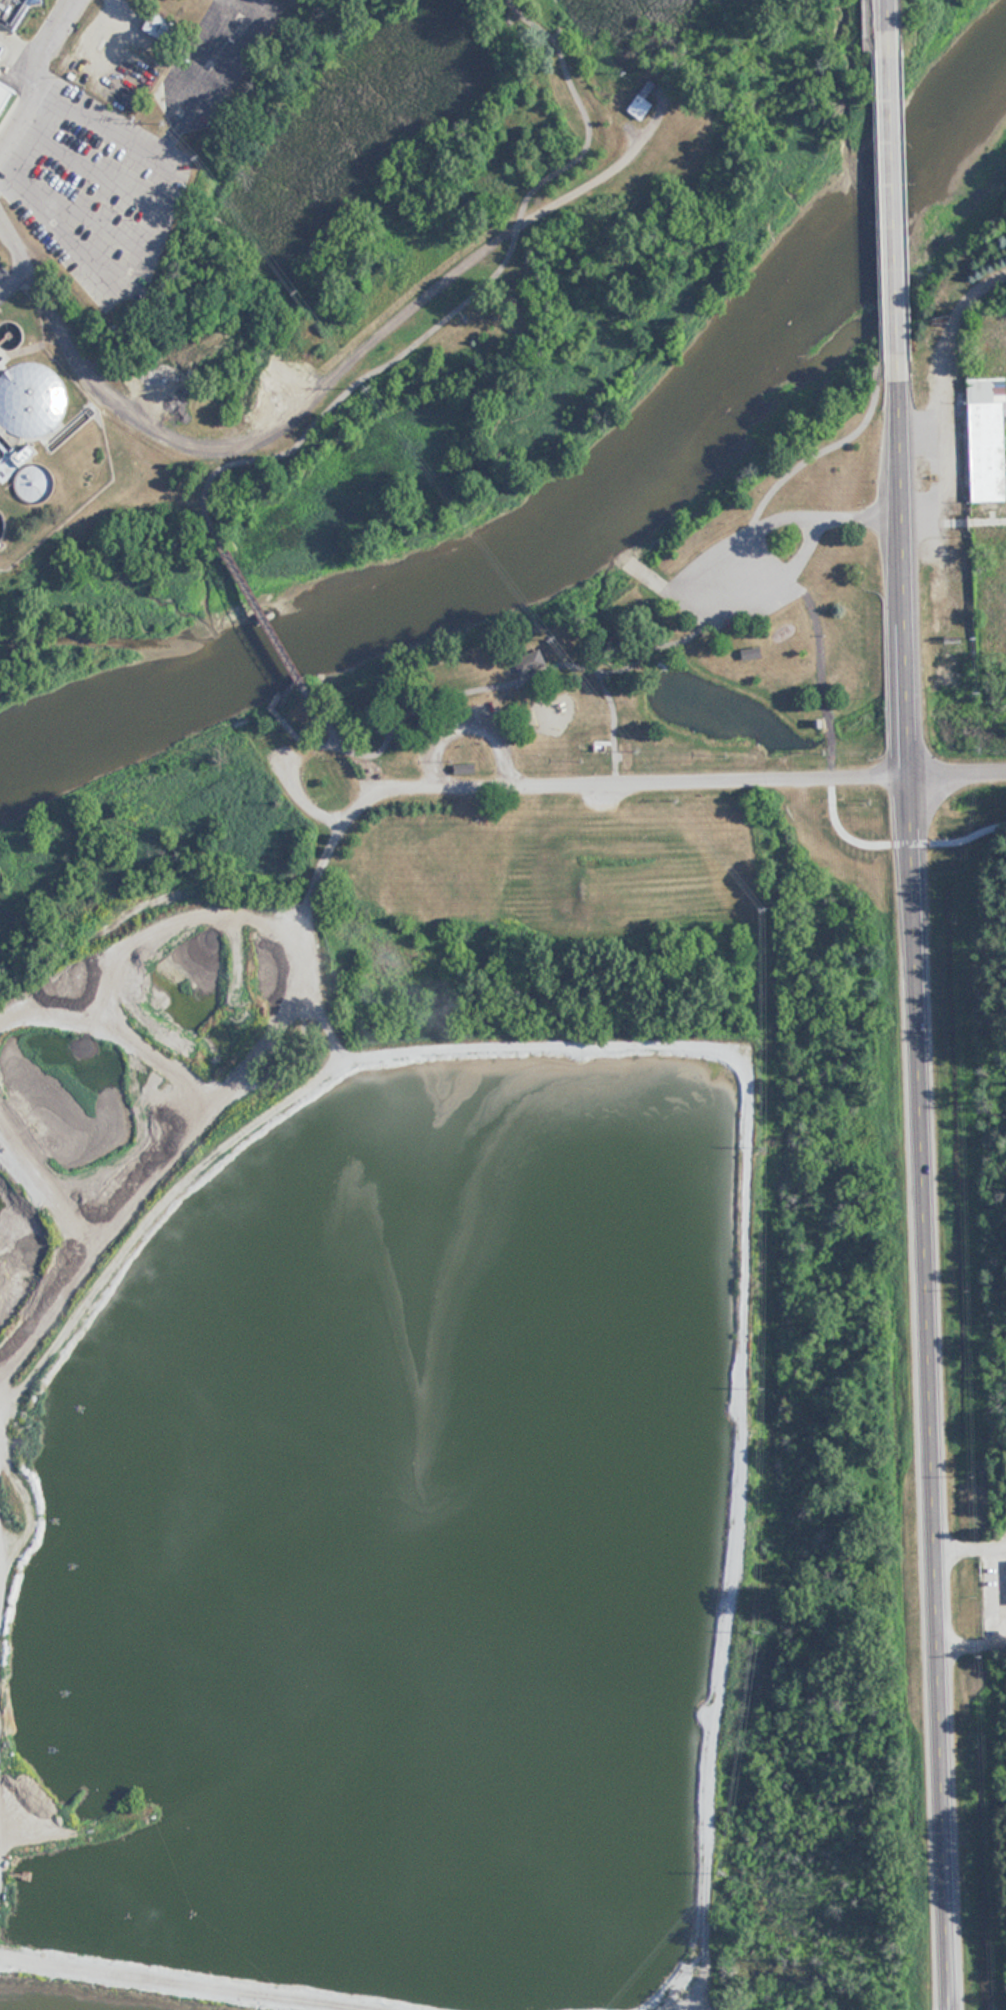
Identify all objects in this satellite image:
building: (17, 13)
road: (890, 15)
road: (870, 26)
building: (166, 30)
building: (2, 50)
road: (38, 72)
building: (3, 91)
building: (641, 106)
road: (879, 203)
road: (895, 204)
road: (462, 302)
road: (942, 360)
road: (319, 380)
building: (287, 386)
building: (28, 400)
building: (988, 429)
road: (826, 447)
road: (940, 476)
road: (921, 517)
road: (973, 518)
river: (590, 528)
road: (689, 571)
road: (656, 587)
road: (262, 603)
park: (647, 639)
road: (657, 651)
building: (752, 655)
building: (530, 662)
road: (827, 670)
road: (473, 688)
building: (626, 756)
building: (465, 768)
road: (959, 776)
road: (618, 781)
road: (316, 810)
road: (859, 822)
road: (960, 822)
road: (316, 886)
road: (220, 1038)
road: (925, 1194)
park: (967, 1346)

